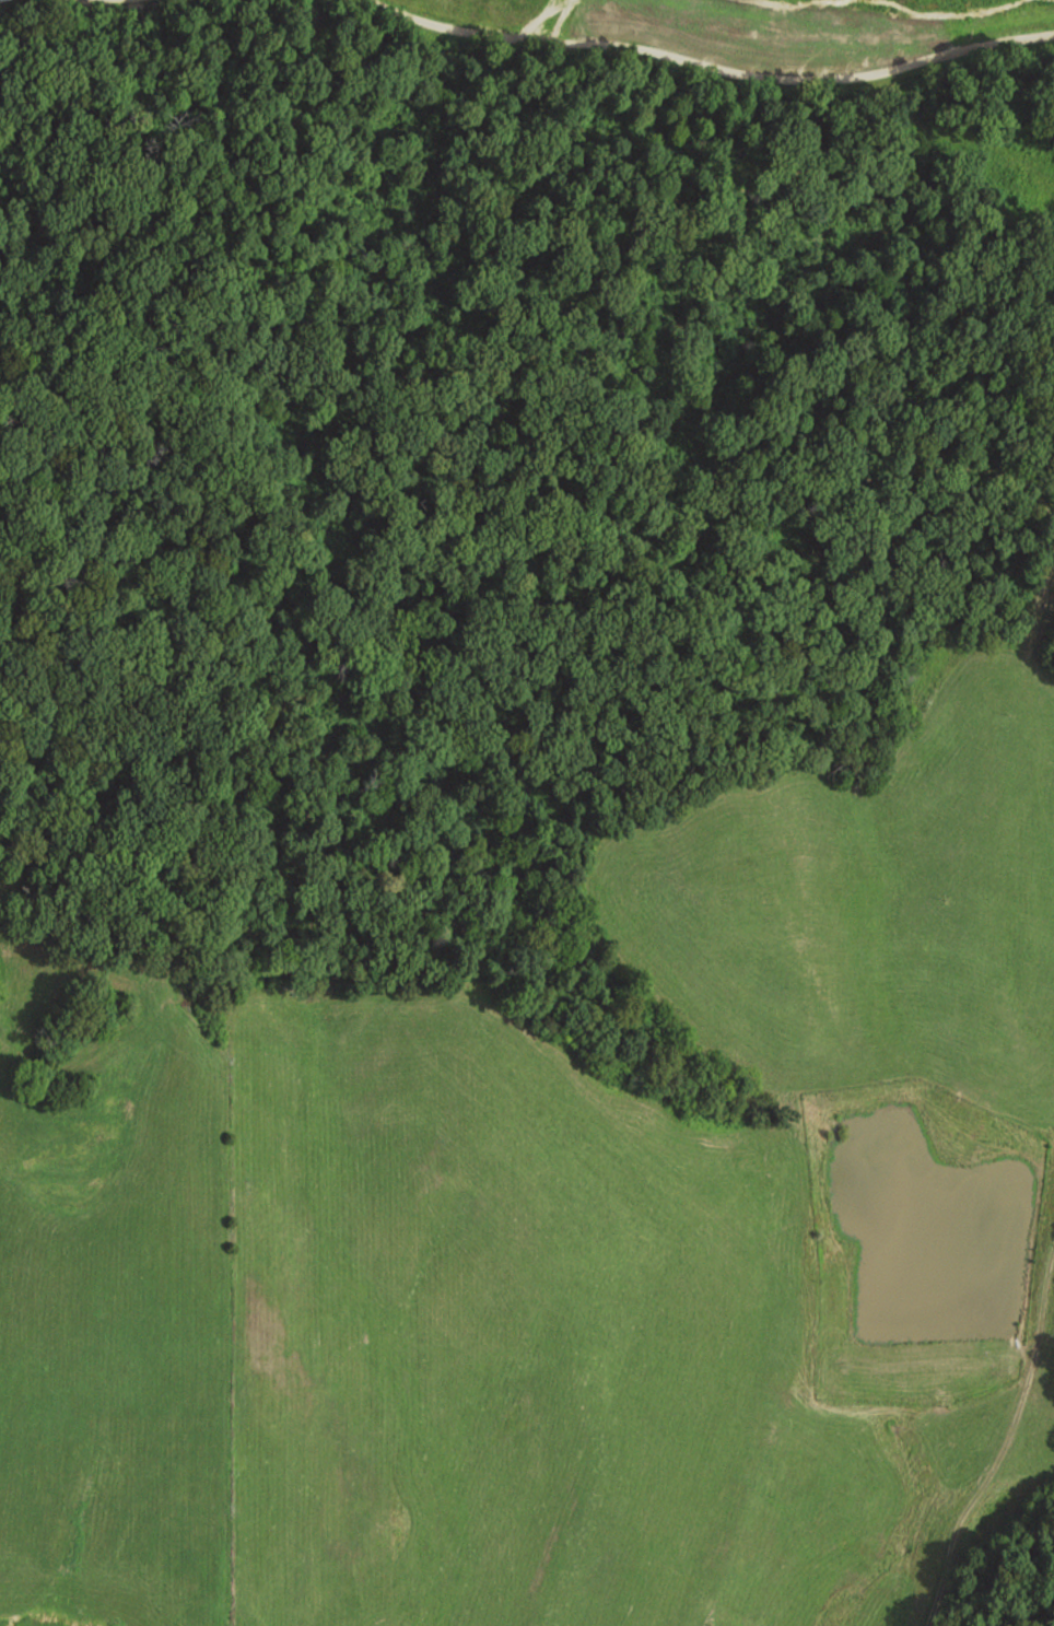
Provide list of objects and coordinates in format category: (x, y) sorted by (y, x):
building: (0, 0)
road: (712, 63)

